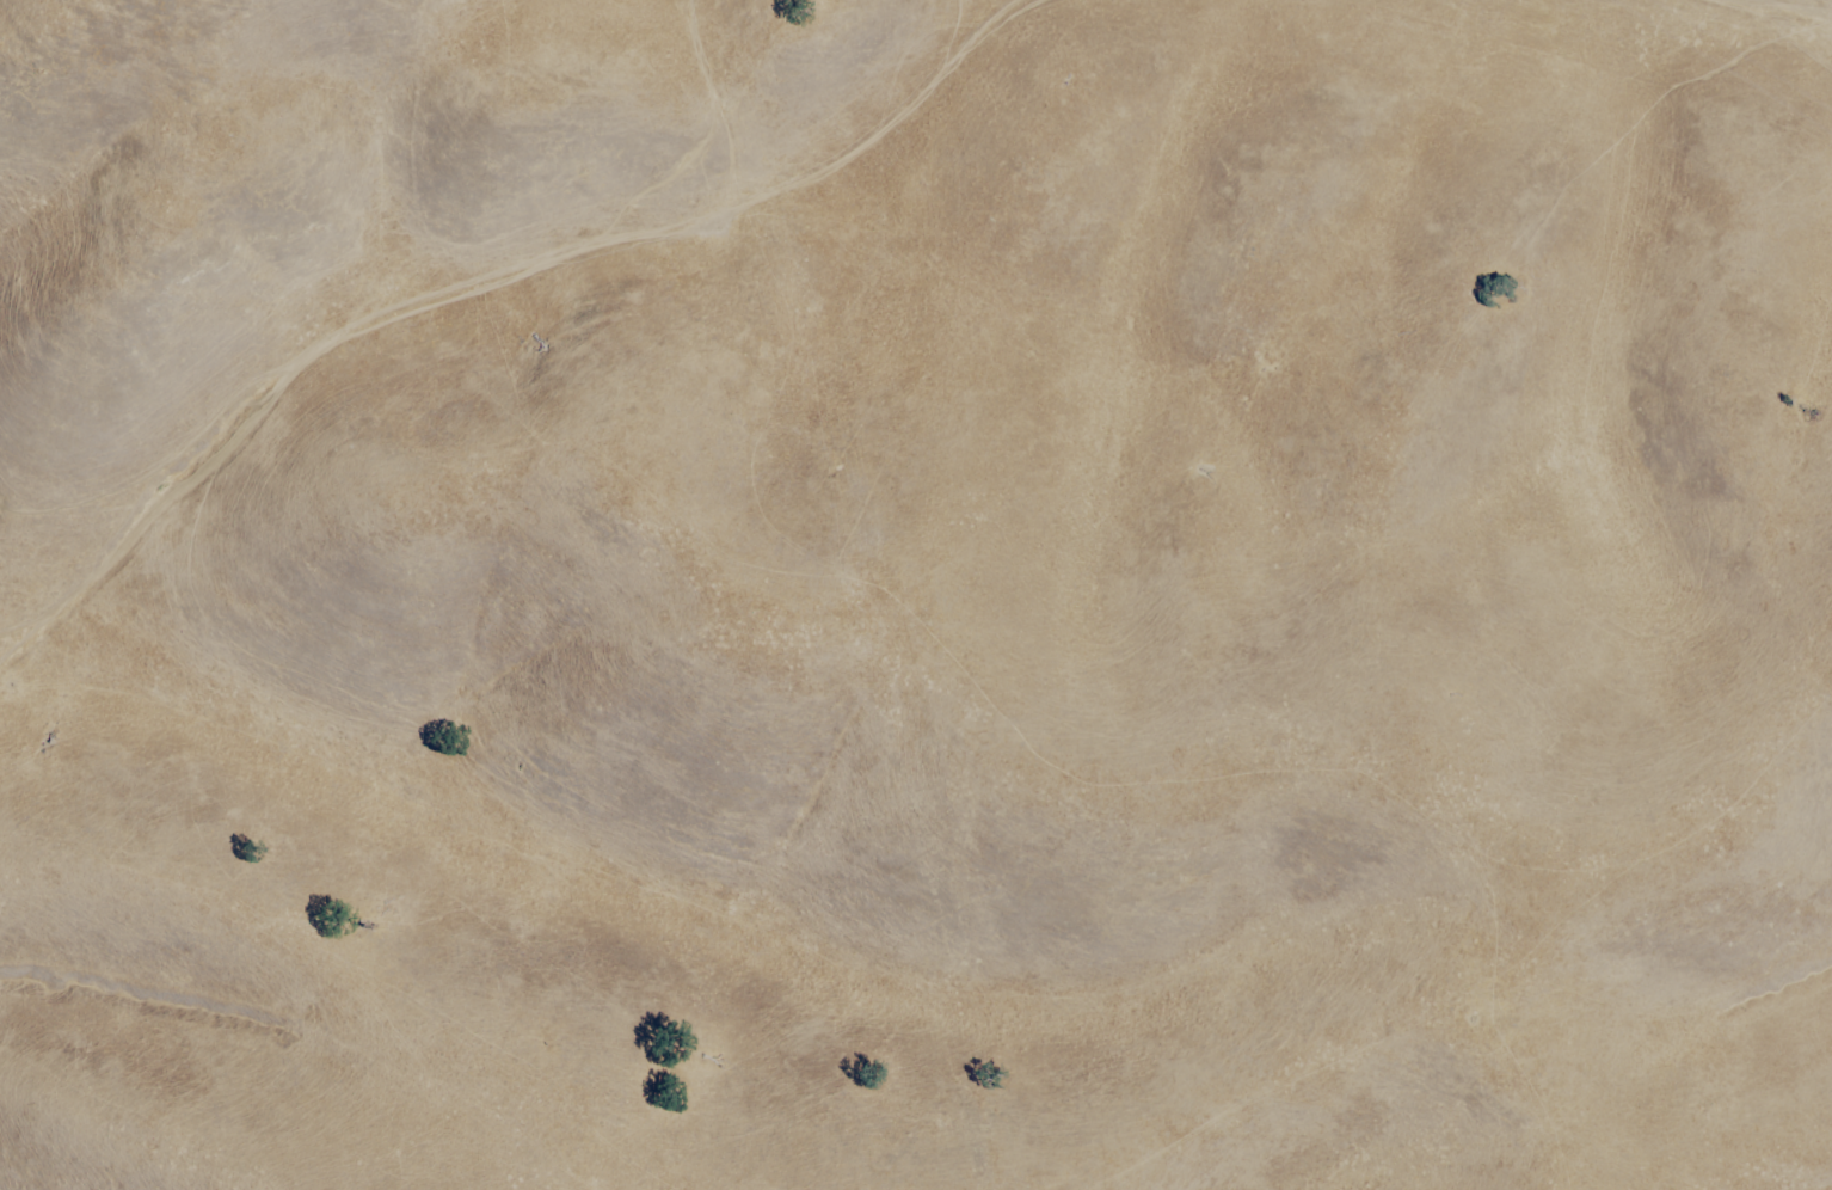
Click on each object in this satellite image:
road: (1795, 12)
road: (1783, 31)
road: (717, 97)
road: (499, 278)
park: (916, 594)

